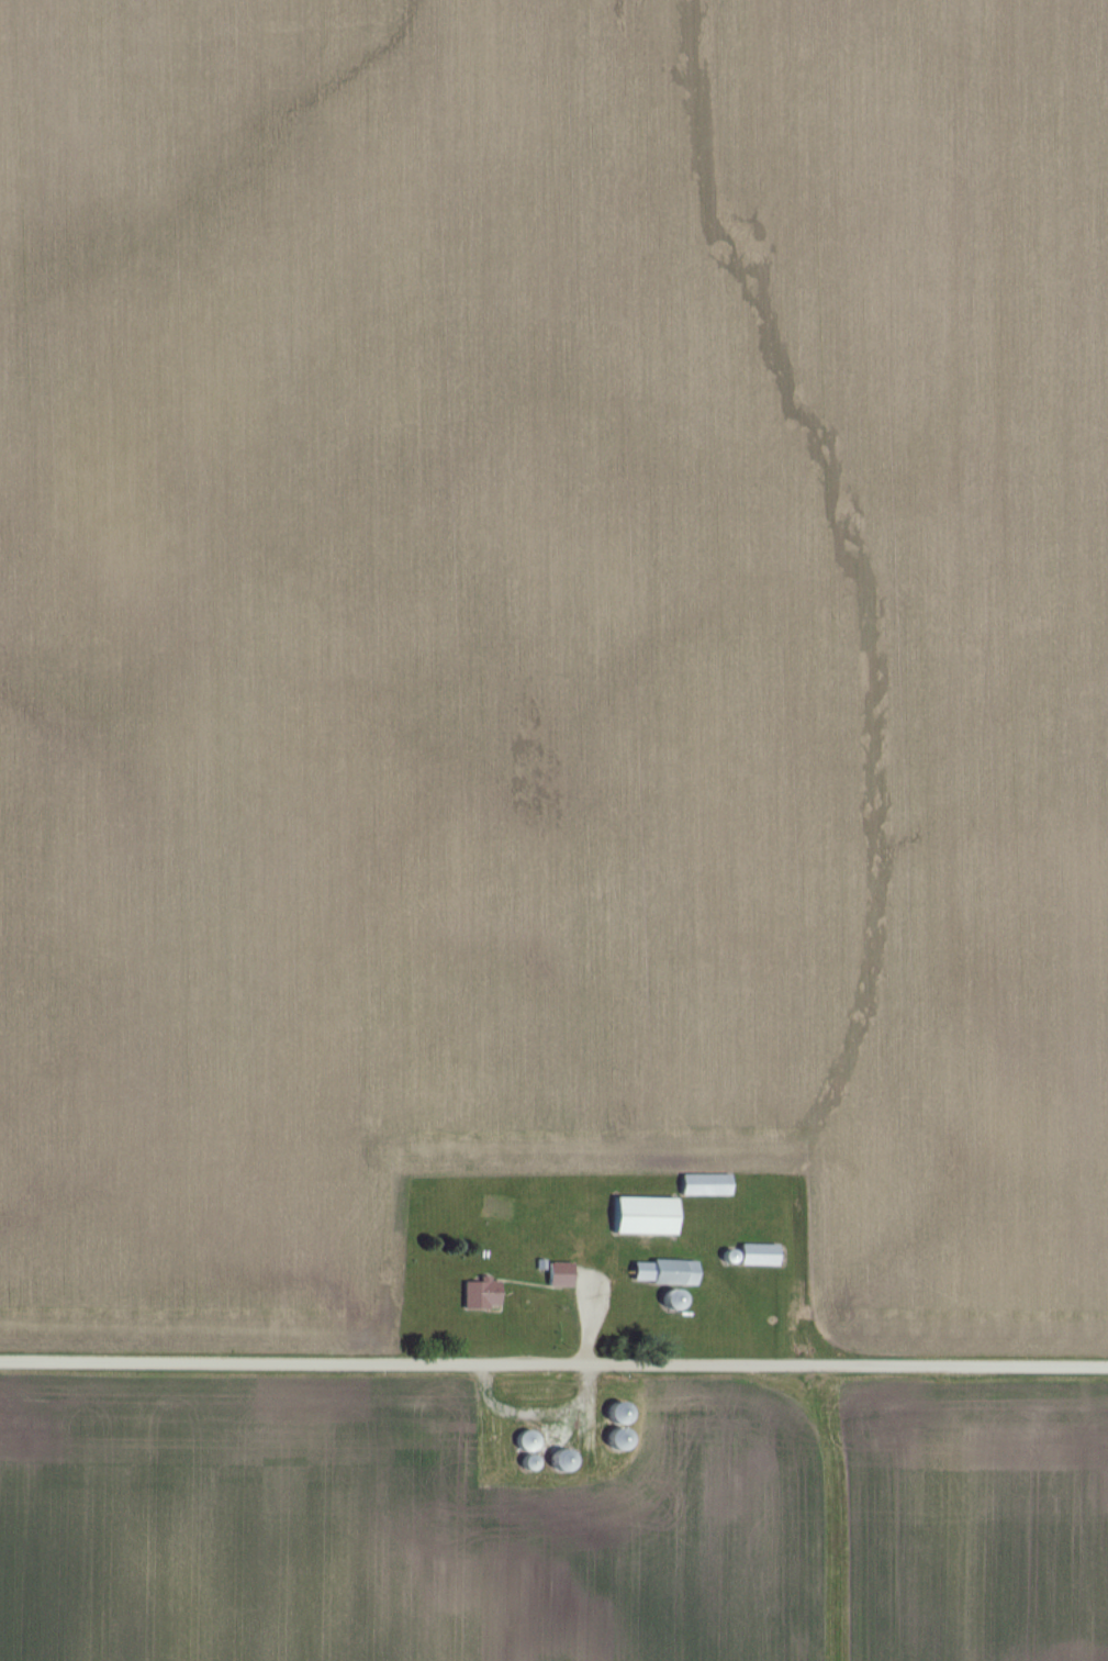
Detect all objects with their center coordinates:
building: (706, 1186)
building: (561, 1277)
road: (553, 1367)
road: (586, 1418)

